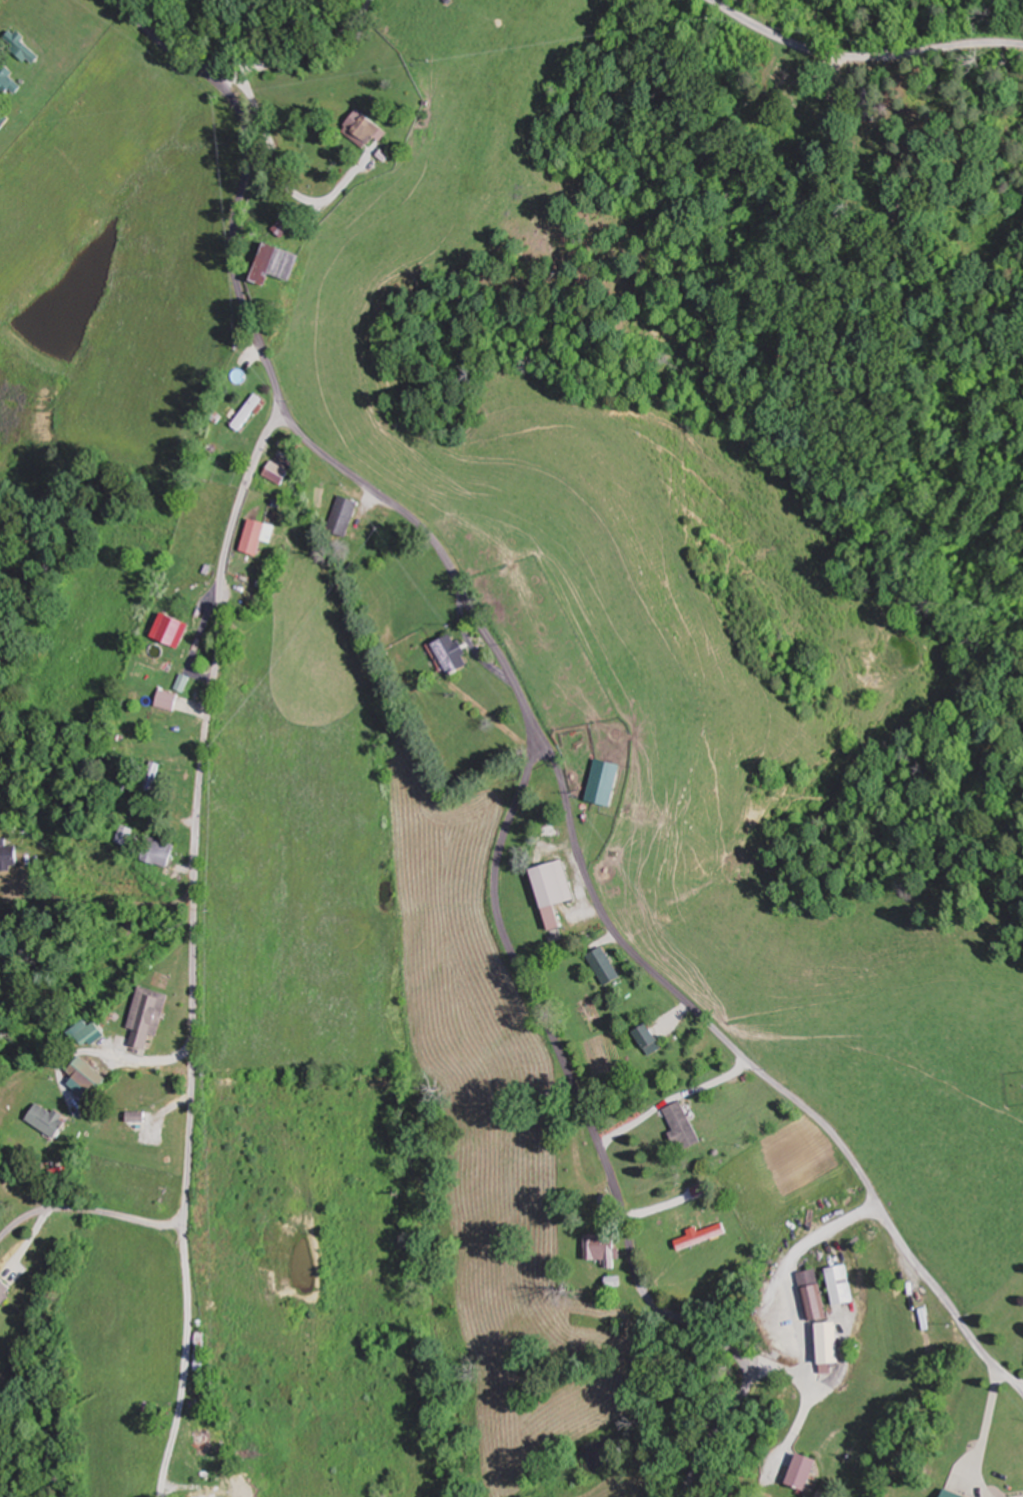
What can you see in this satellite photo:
building: (26, 48)
road: (296, 56)
road: (861, 59)
building: (787, 75)
building: (9, 80)
building: (3, 124)
building: (366, 127)
building: (289, 226)
building: (283, 262)
building: (255, 410)
building: (280, 472)
building: (346, 515)
building: (259, 536)
building: (175, 630)
building: (453, 653)
building: (171, 700)
road: (527, 721)
building: (606, 782)
building: (163, 852)
building: (10, 858)
building: (557, 891)
road: (196, 947)
building: (607, 966)
building: (152, 1016)
building: (650, 1039)
road: (758, 1067)
building: (92, 1075)
building: (142, 1116)
building: (51, 1120)
building: (686, 1125)
building: (1, 1178)
road: (88, 1212)
building: (682, 1223)
building: (705, 1236)
building: (606, 1248)
building: (840, 1285)
building: (4, 1289)
building: (812, 1295)
building: (831, 1343)
building: (203, 1351)
building: (805, 1471)
building: (208, 1496)

